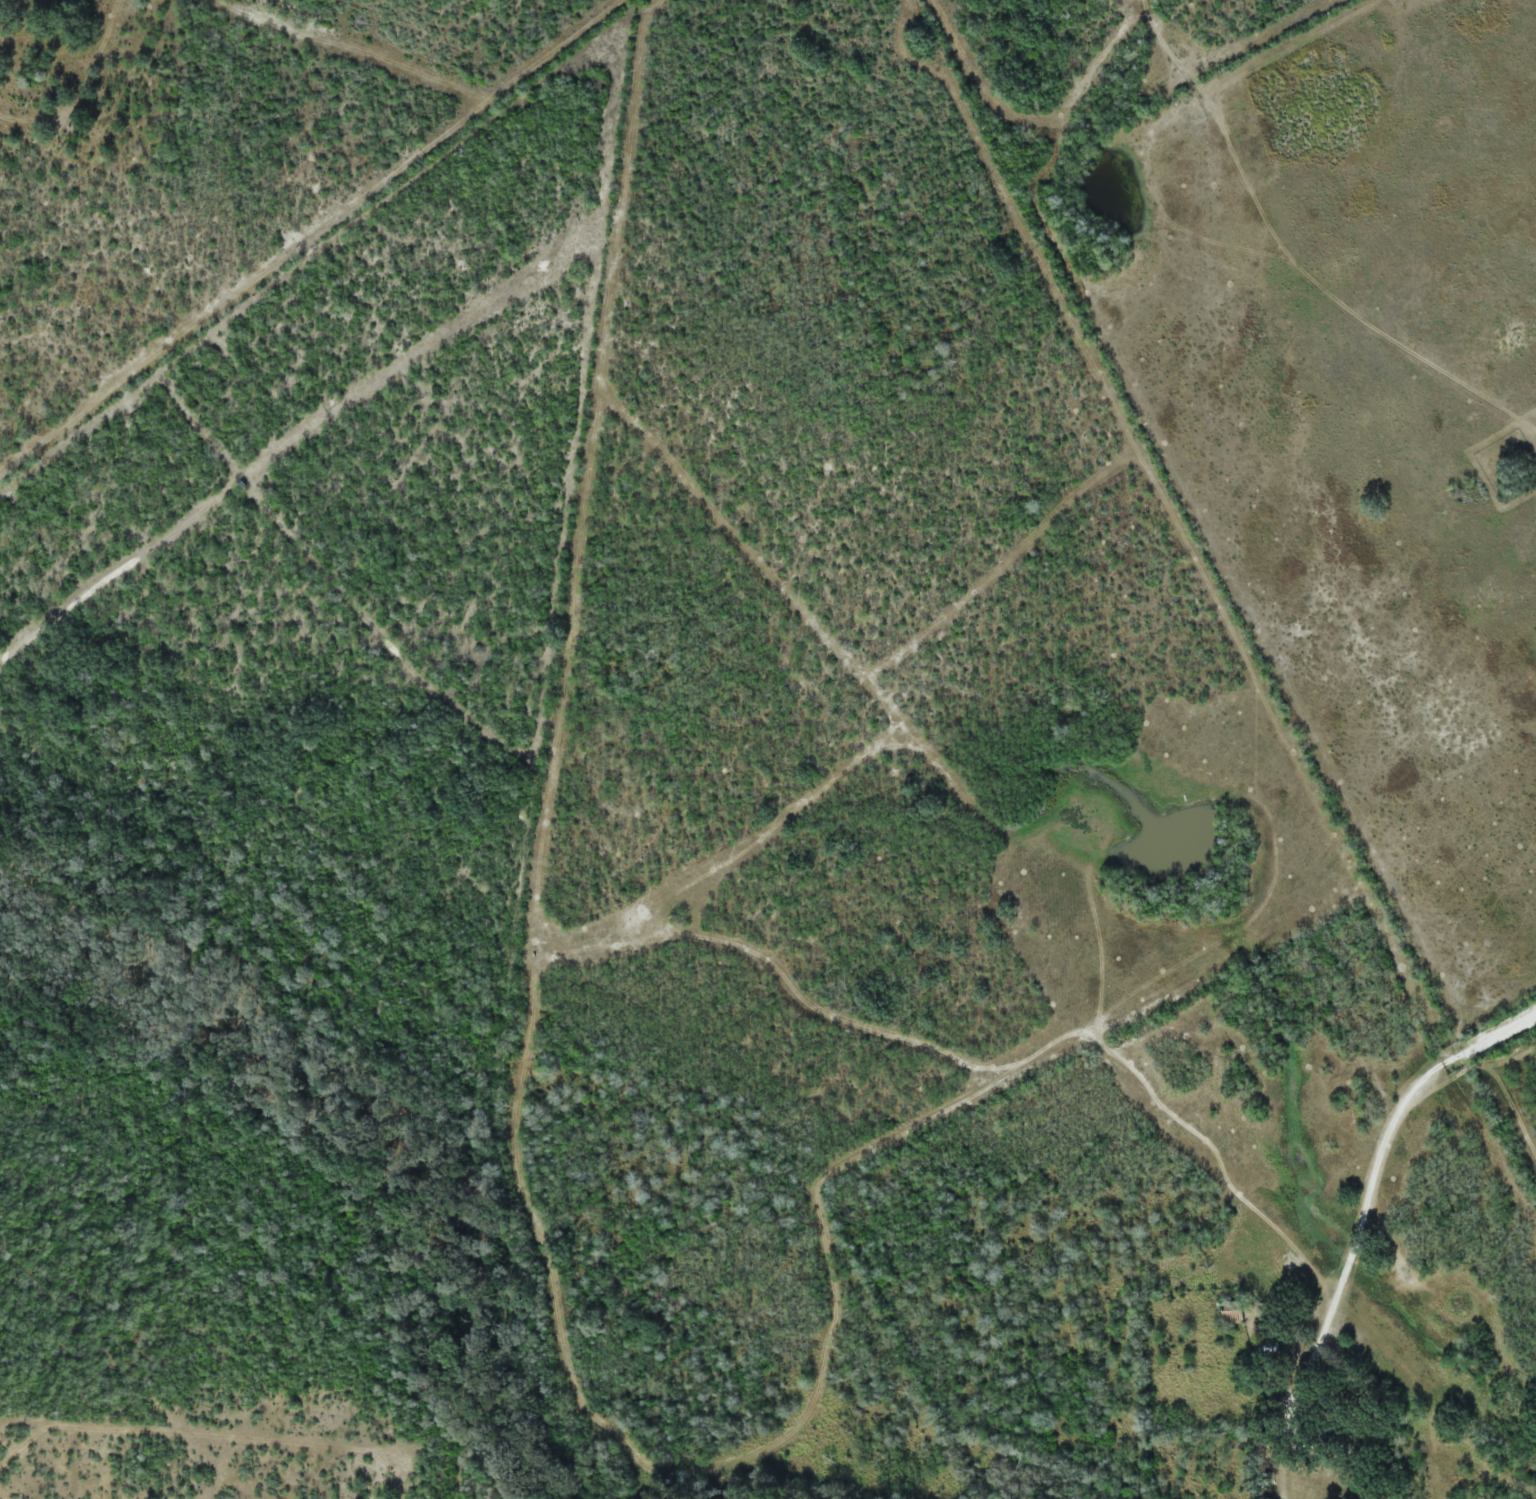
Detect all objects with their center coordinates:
road: (1510, 1030)
road: (1375, 1170)

